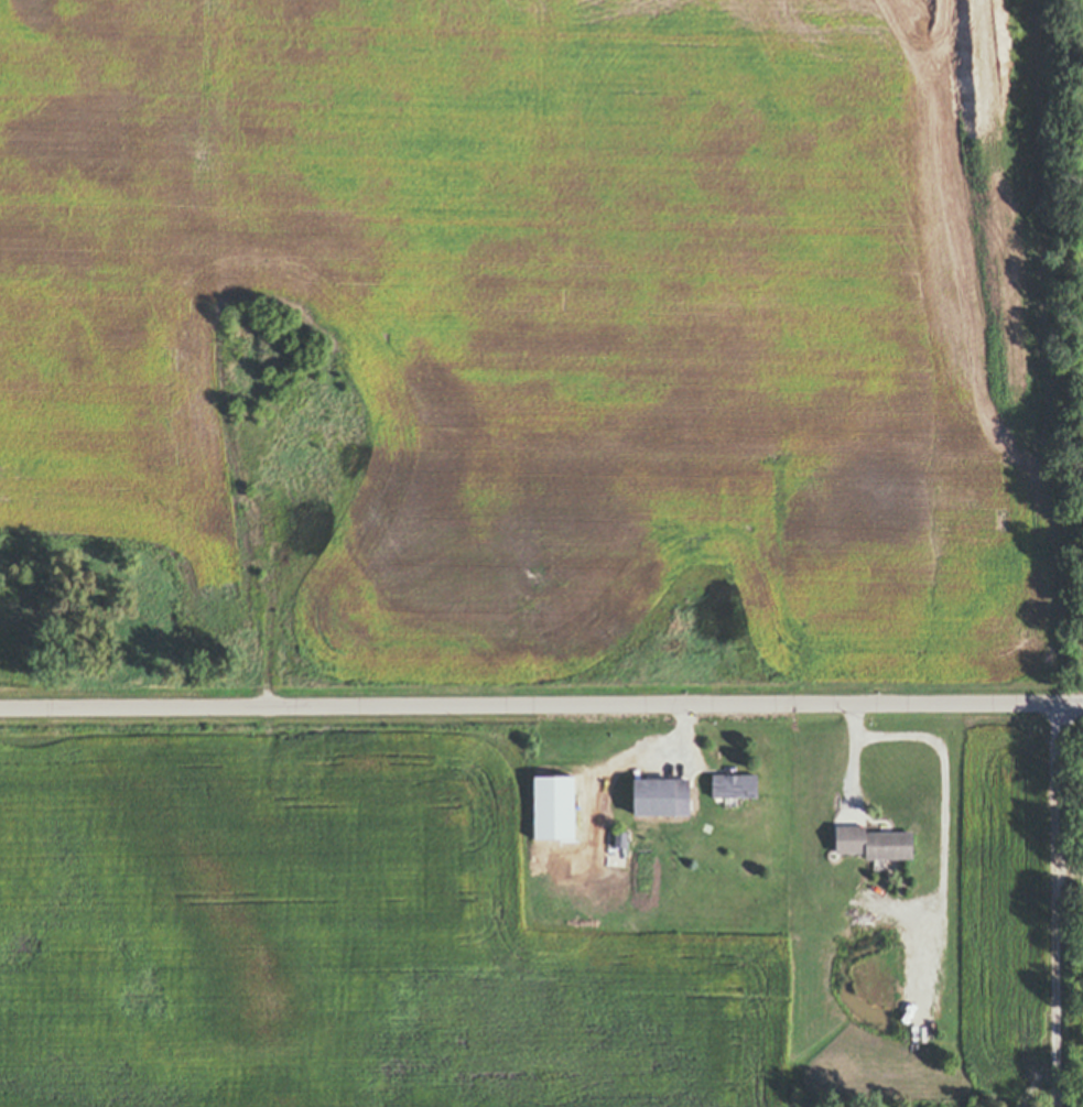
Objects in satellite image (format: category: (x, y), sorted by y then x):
road: (1073, 704)
road: (531, 708)
road: (863, 769)
building: (737, 783)
building: (557, 784)
road: (953, 788)
building: (664, 795)
building: (622, 836)
building: (877, 839)
building: (880, 862)
building: (895, 876)

